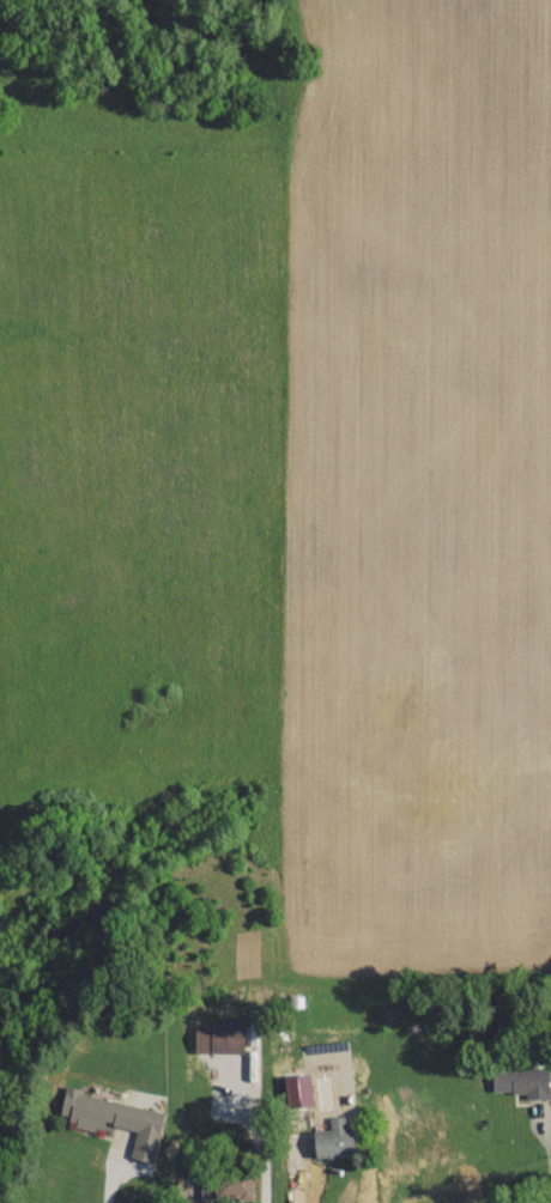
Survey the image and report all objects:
building: (224, 1038)
building: (520, 1081)
building: (295, 1089)
building: (114, 1118)
building: (329, 1136)
road: (117, 1178)
building: (231, 1185)
road: (268, 1187)

